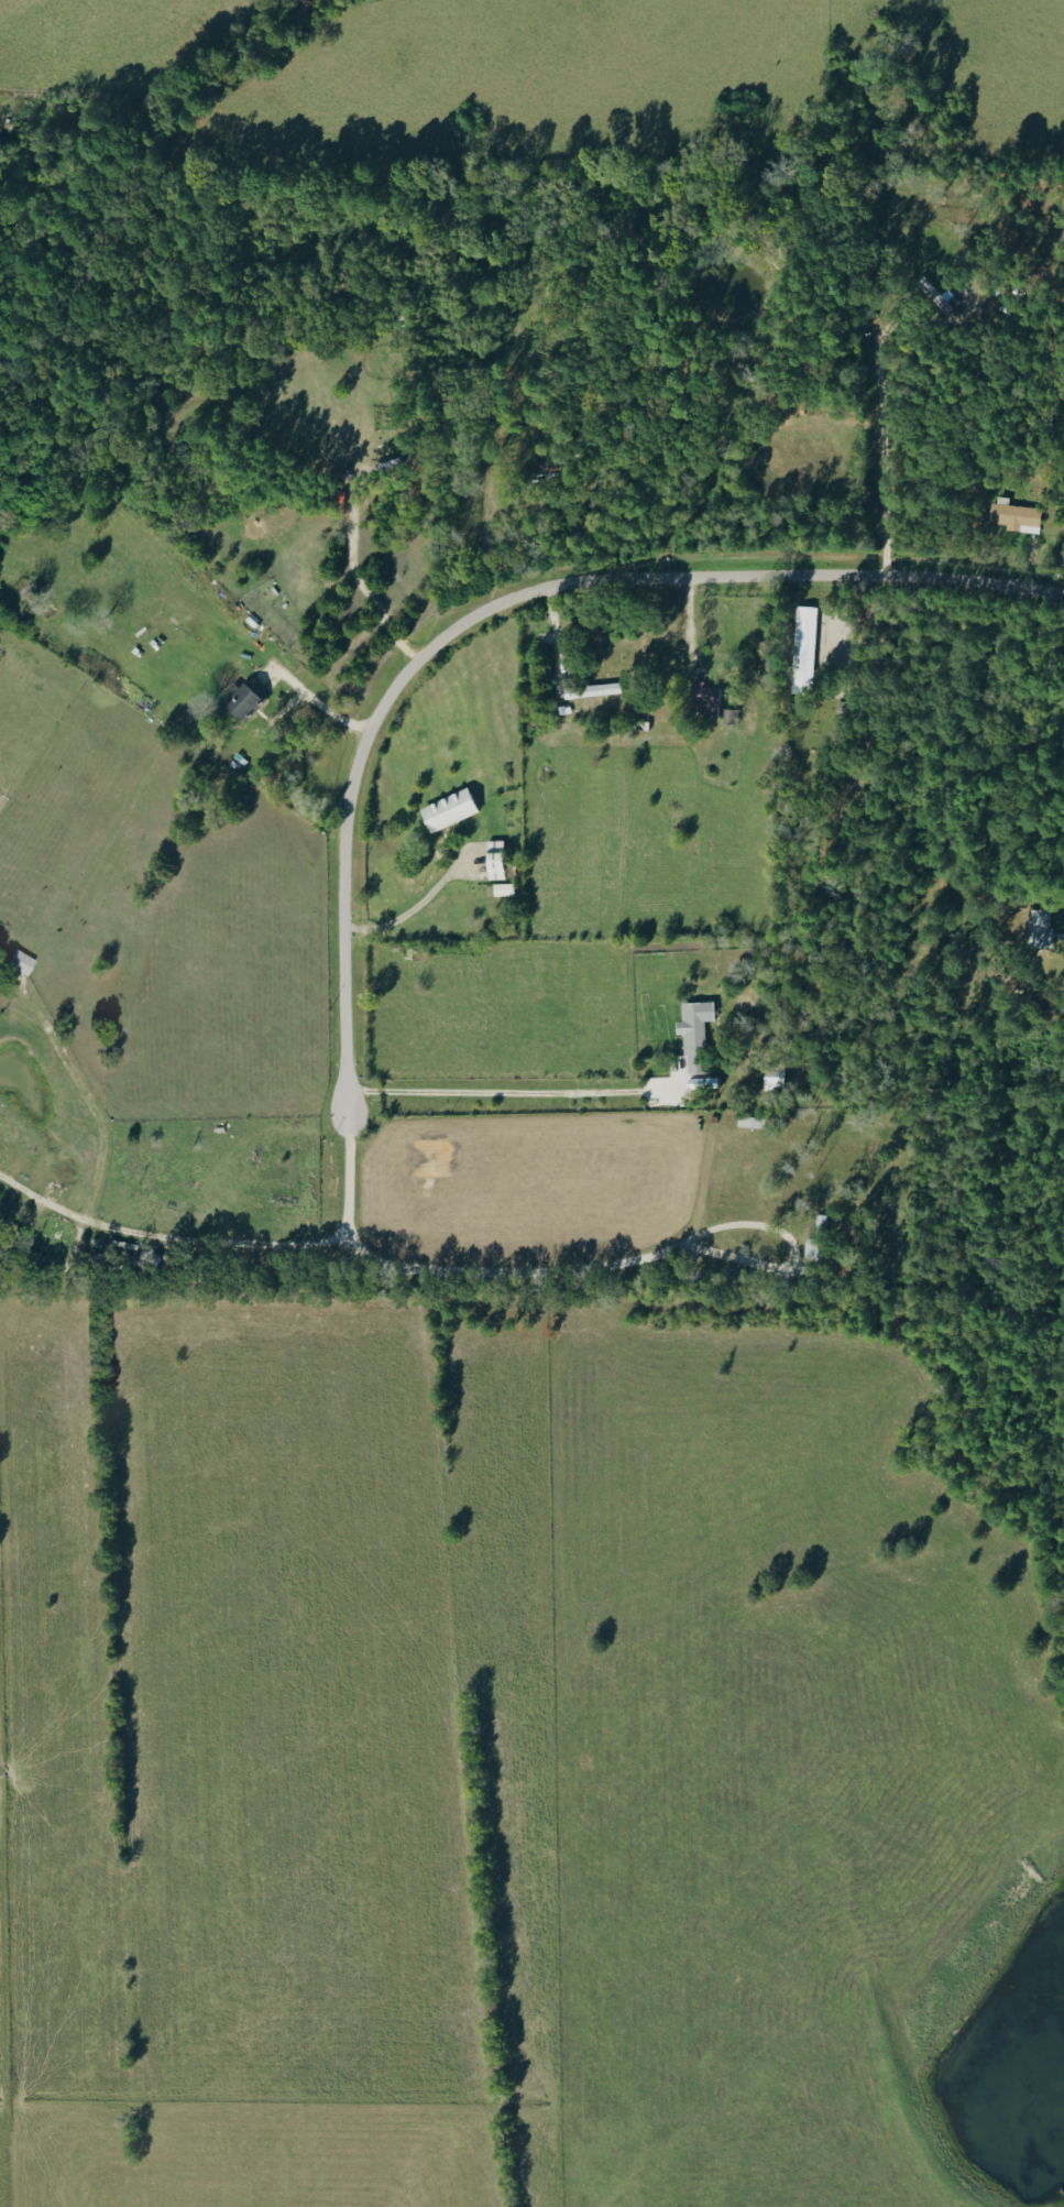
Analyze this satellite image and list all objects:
road: (879, 459)
building: (1012, 516)
road: (845, 626)
building: (802, 649)
building: (597, 689)
building: (701, 696)
road: (312, 700)
building: (239, 701)
building: (443, 811)
building: (498, 889)
road: (1049, 903)
road: (409, 909)
building: (680, 1058)
road: (504, 1092)
road: (338, 1136)
road: (162, 1237)
road: (633, 1260)

